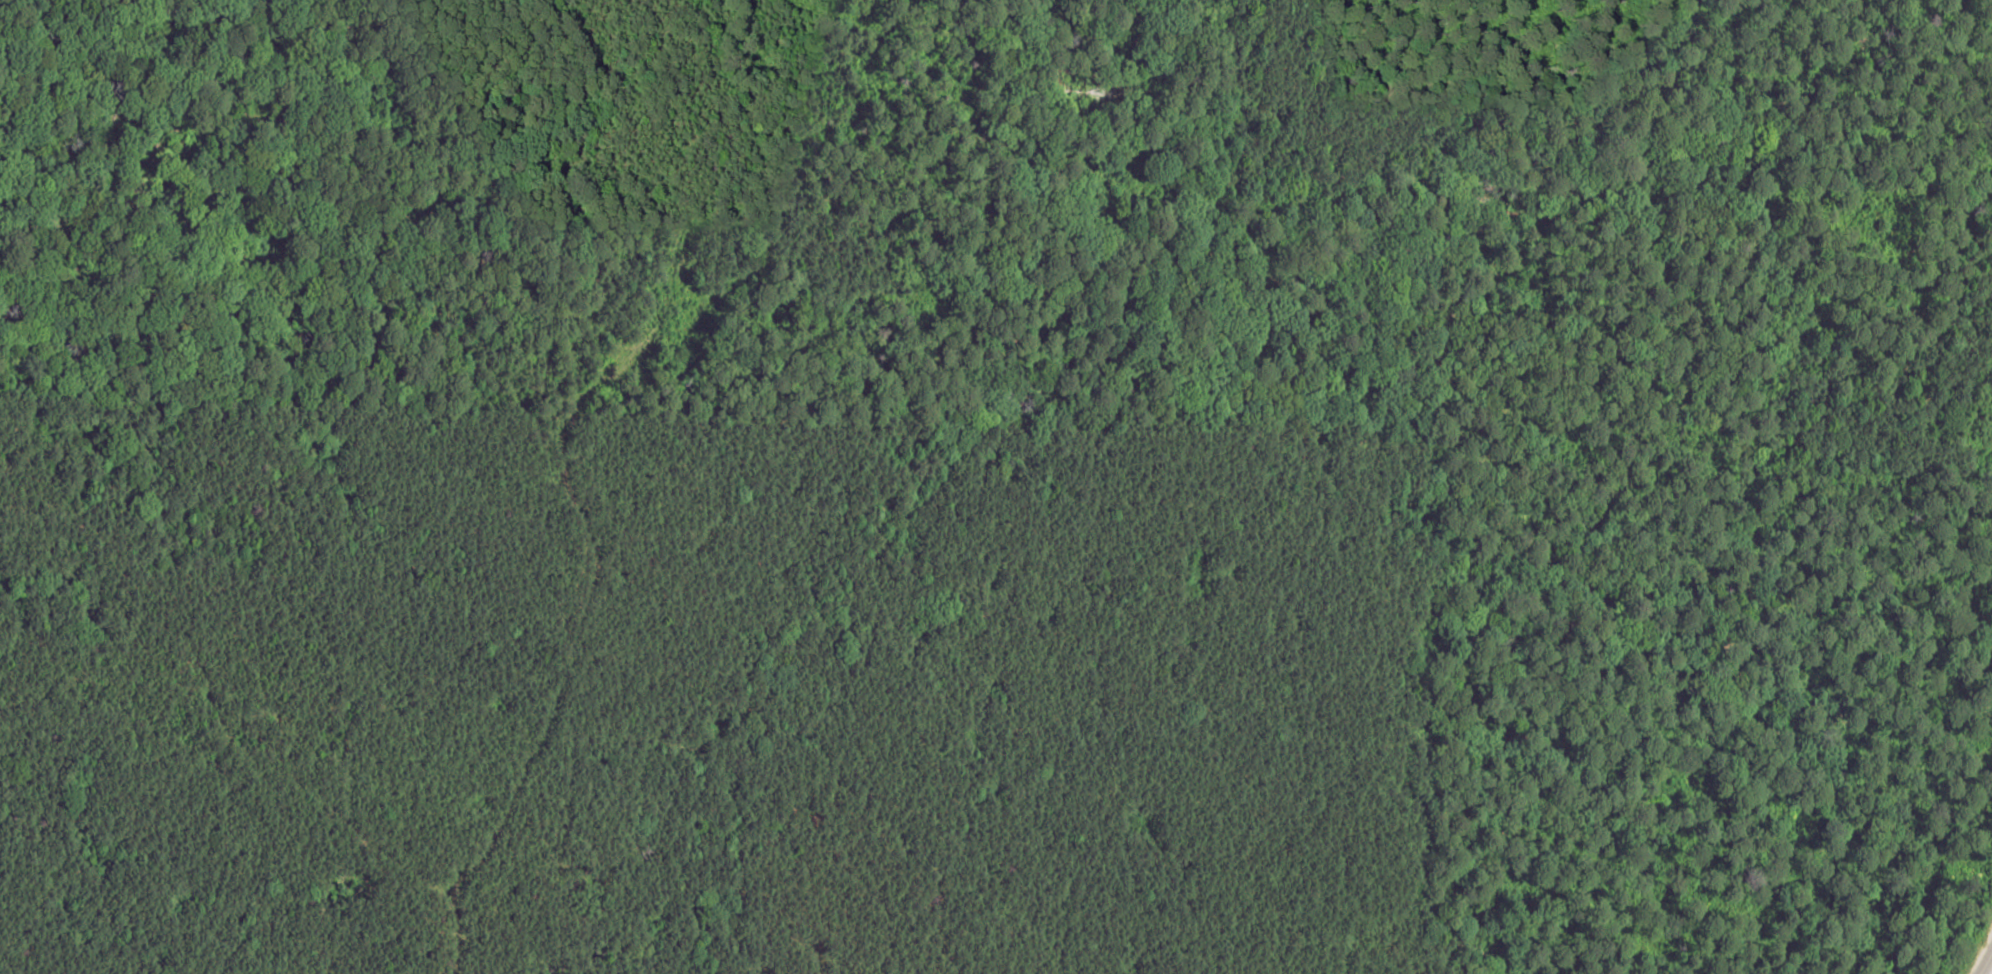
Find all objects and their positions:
road: (1980, 951)

